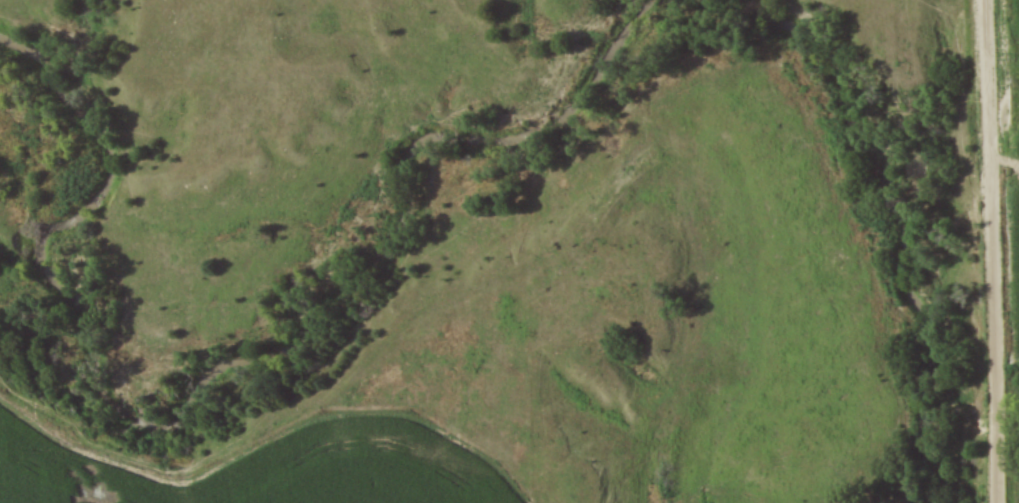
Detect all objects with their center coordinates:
road: (995, 251)

